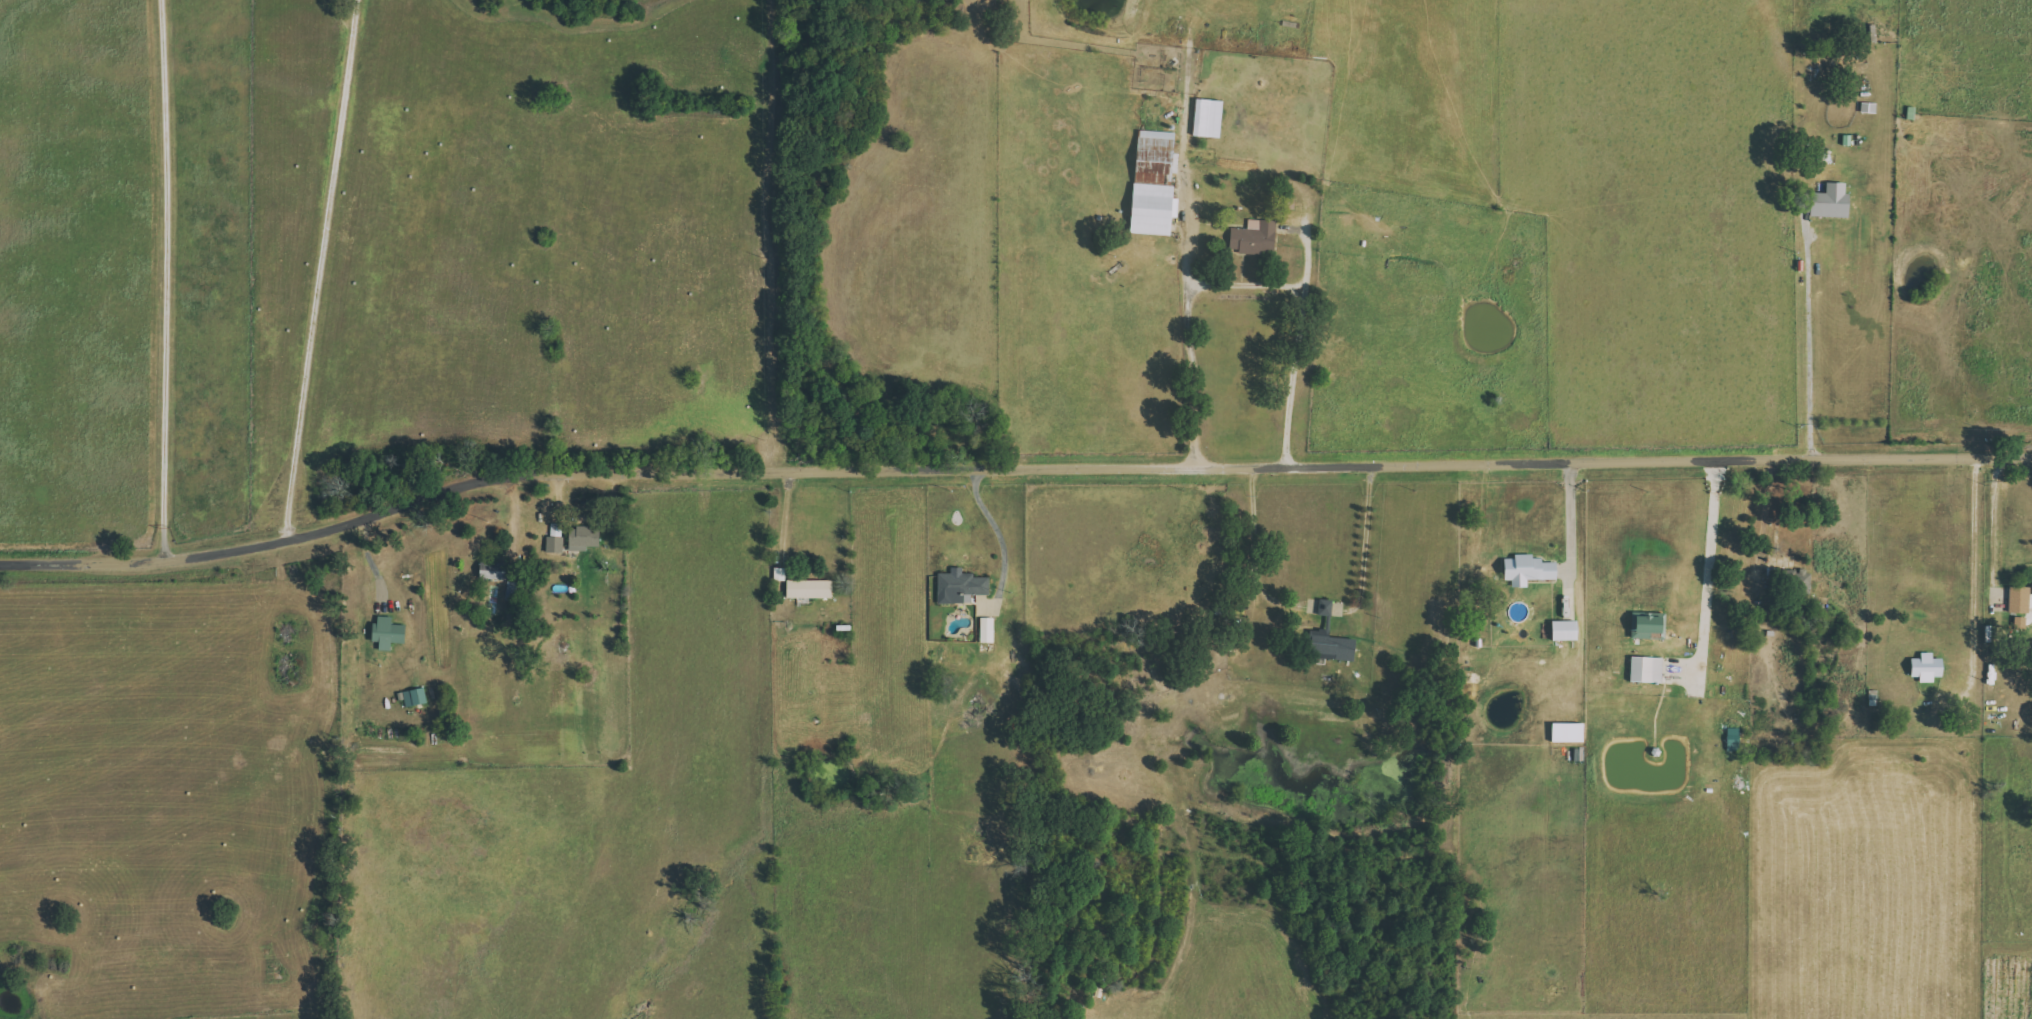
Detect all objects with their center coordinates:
building: (1206, 118)
building: (1152, 182)
building: (1830, 202)
building: (1253, 238)
road: (313, 269)
road: (159, 278)
road: (1244, 280)
road: (1807, 339)
road: (1011, 466)
road: (784, 514)
road: (1993, 515)
road: (999, 531)
road: (1573, 533)
building: (582, 538)
building: (554, 544)
road: (1364, 544)
road: (1254, 553)
road: (1708, 554)
building: (1528, 570)
building: (491, 571)
road: (1972, 573)
building: (1803, 582)
building: (960, 587)
building: (808, 588)
building: (2031, 591)
building: (2019, 599)
building: (1325, 607)
building: (1643, 625)
building: (987, 630)
building: (1563, 630)
building: (385, 632)
building: (1328, 645)
building: (1925, 667)
building: (1645, 669)
building: (414, 697)

